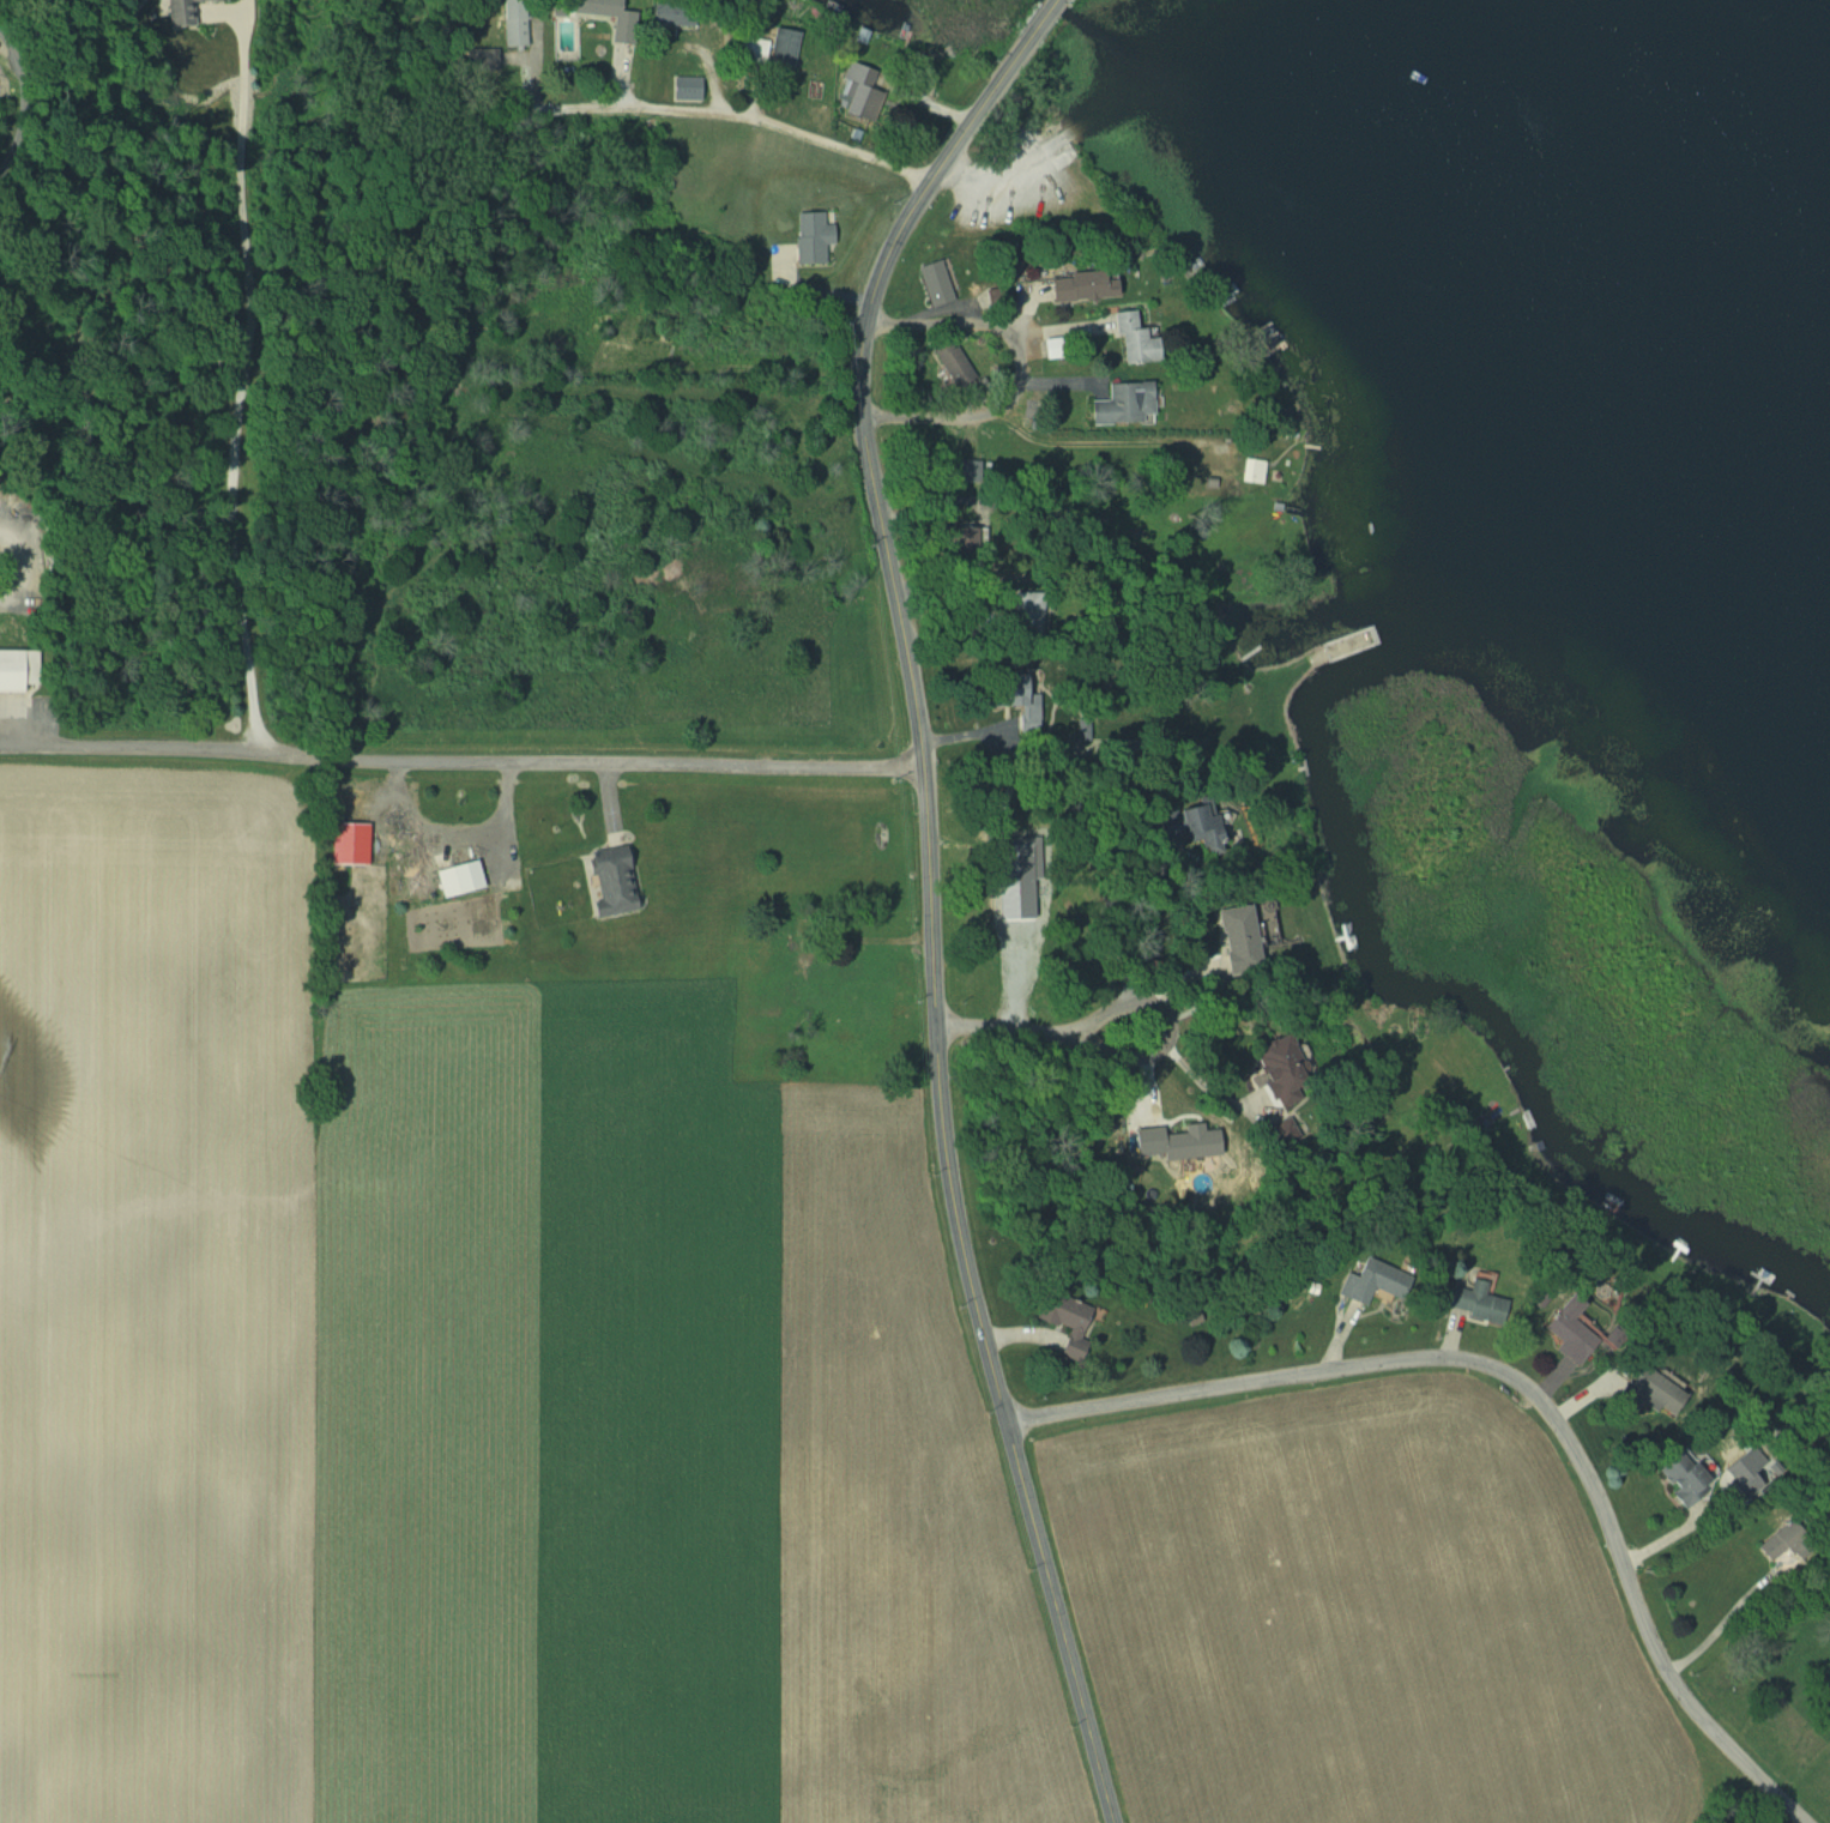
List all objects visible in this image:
building: (175, 12)
building: (508, 24)
building: (762, 49)
building: (476, 60)
building: (683, 87)
building: (857, 89)
road: (14, 107)
road: (748, 119)
building: (808, 237)
building: (935, 282)
building: (1076, 288)
building: (1129, 337)
building: (950, 363)
road: (1019, 372)
road: (236, 387)
building: (1122, 404)
building: (18, 670)
building: (999, 689)
building: (1023, 714)
road: (461, 760)
building: (1183, 823)
building: (346, 843)
building: (455, 877)
building: (606, 881)
road: (930, 891)
road: (1097, 917)
building: (1232, 936)
building: (862, 967)
road: (551, 1028)
road: (1123, 1051)
building: (1270, 1055)
road: (1206, 1092)
building: (1371, 1280)
building: (1473, 1300)
building: (1064, 1320)
building: (1568, 1332)
road: (1524, 1384)
building: (1644, 1390)
building: (1680, 1478)
building: (1780, 1547)
road: (1723, 1626)

